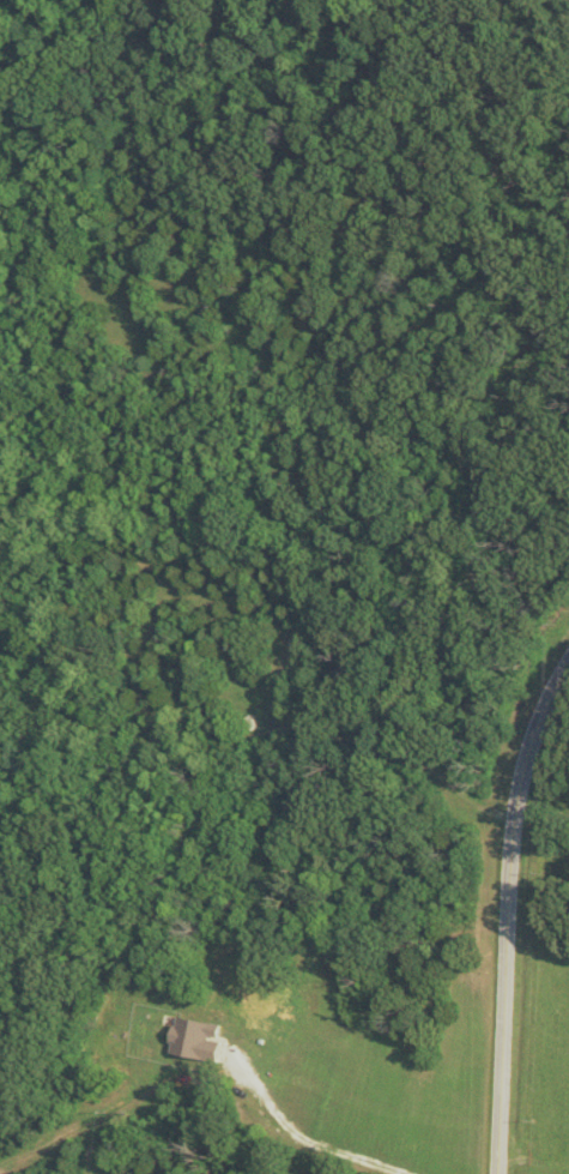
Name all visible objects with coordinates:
road: (507, 908)
road: (208, 1056)

